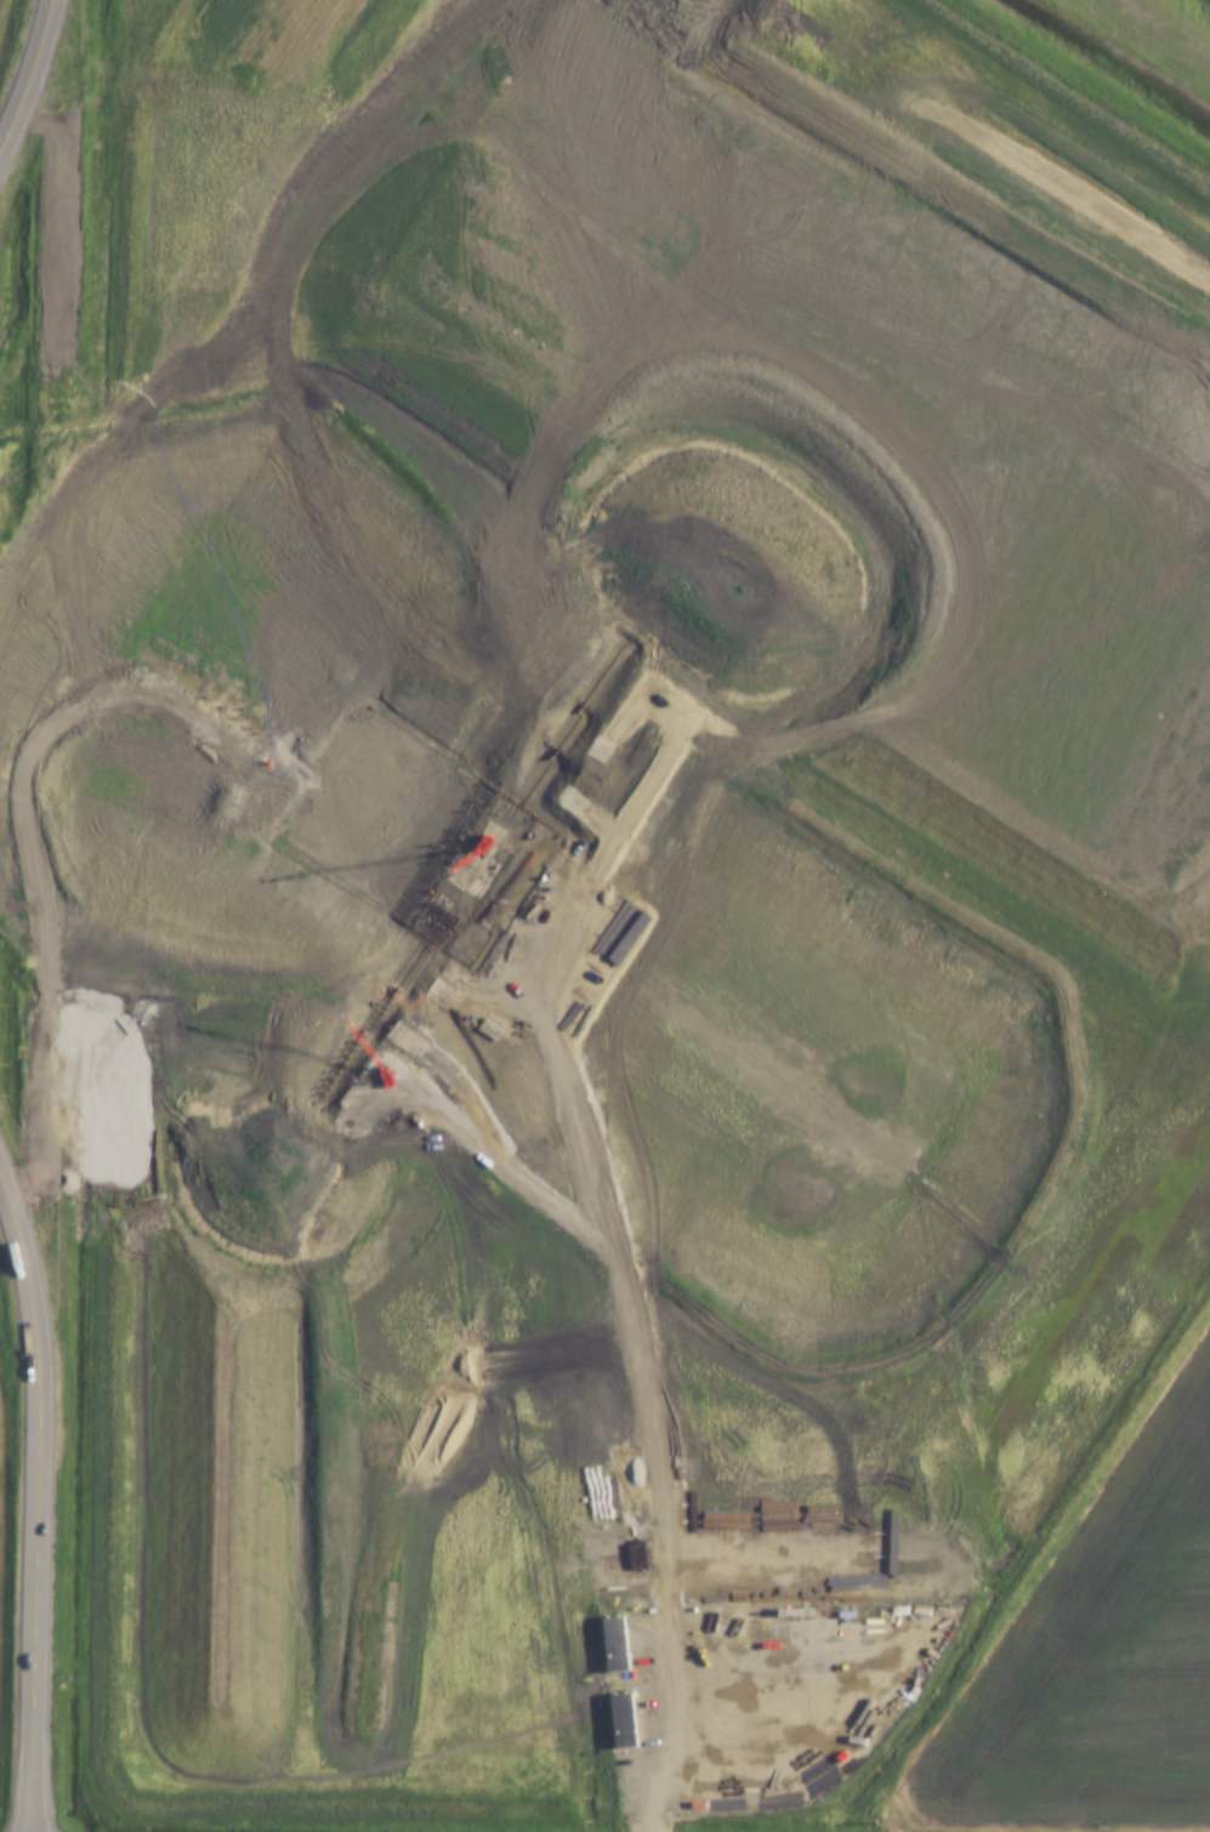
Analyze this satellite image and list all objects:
road: (27, 72)
road: (39, 1504)
road: (664, 1729)

